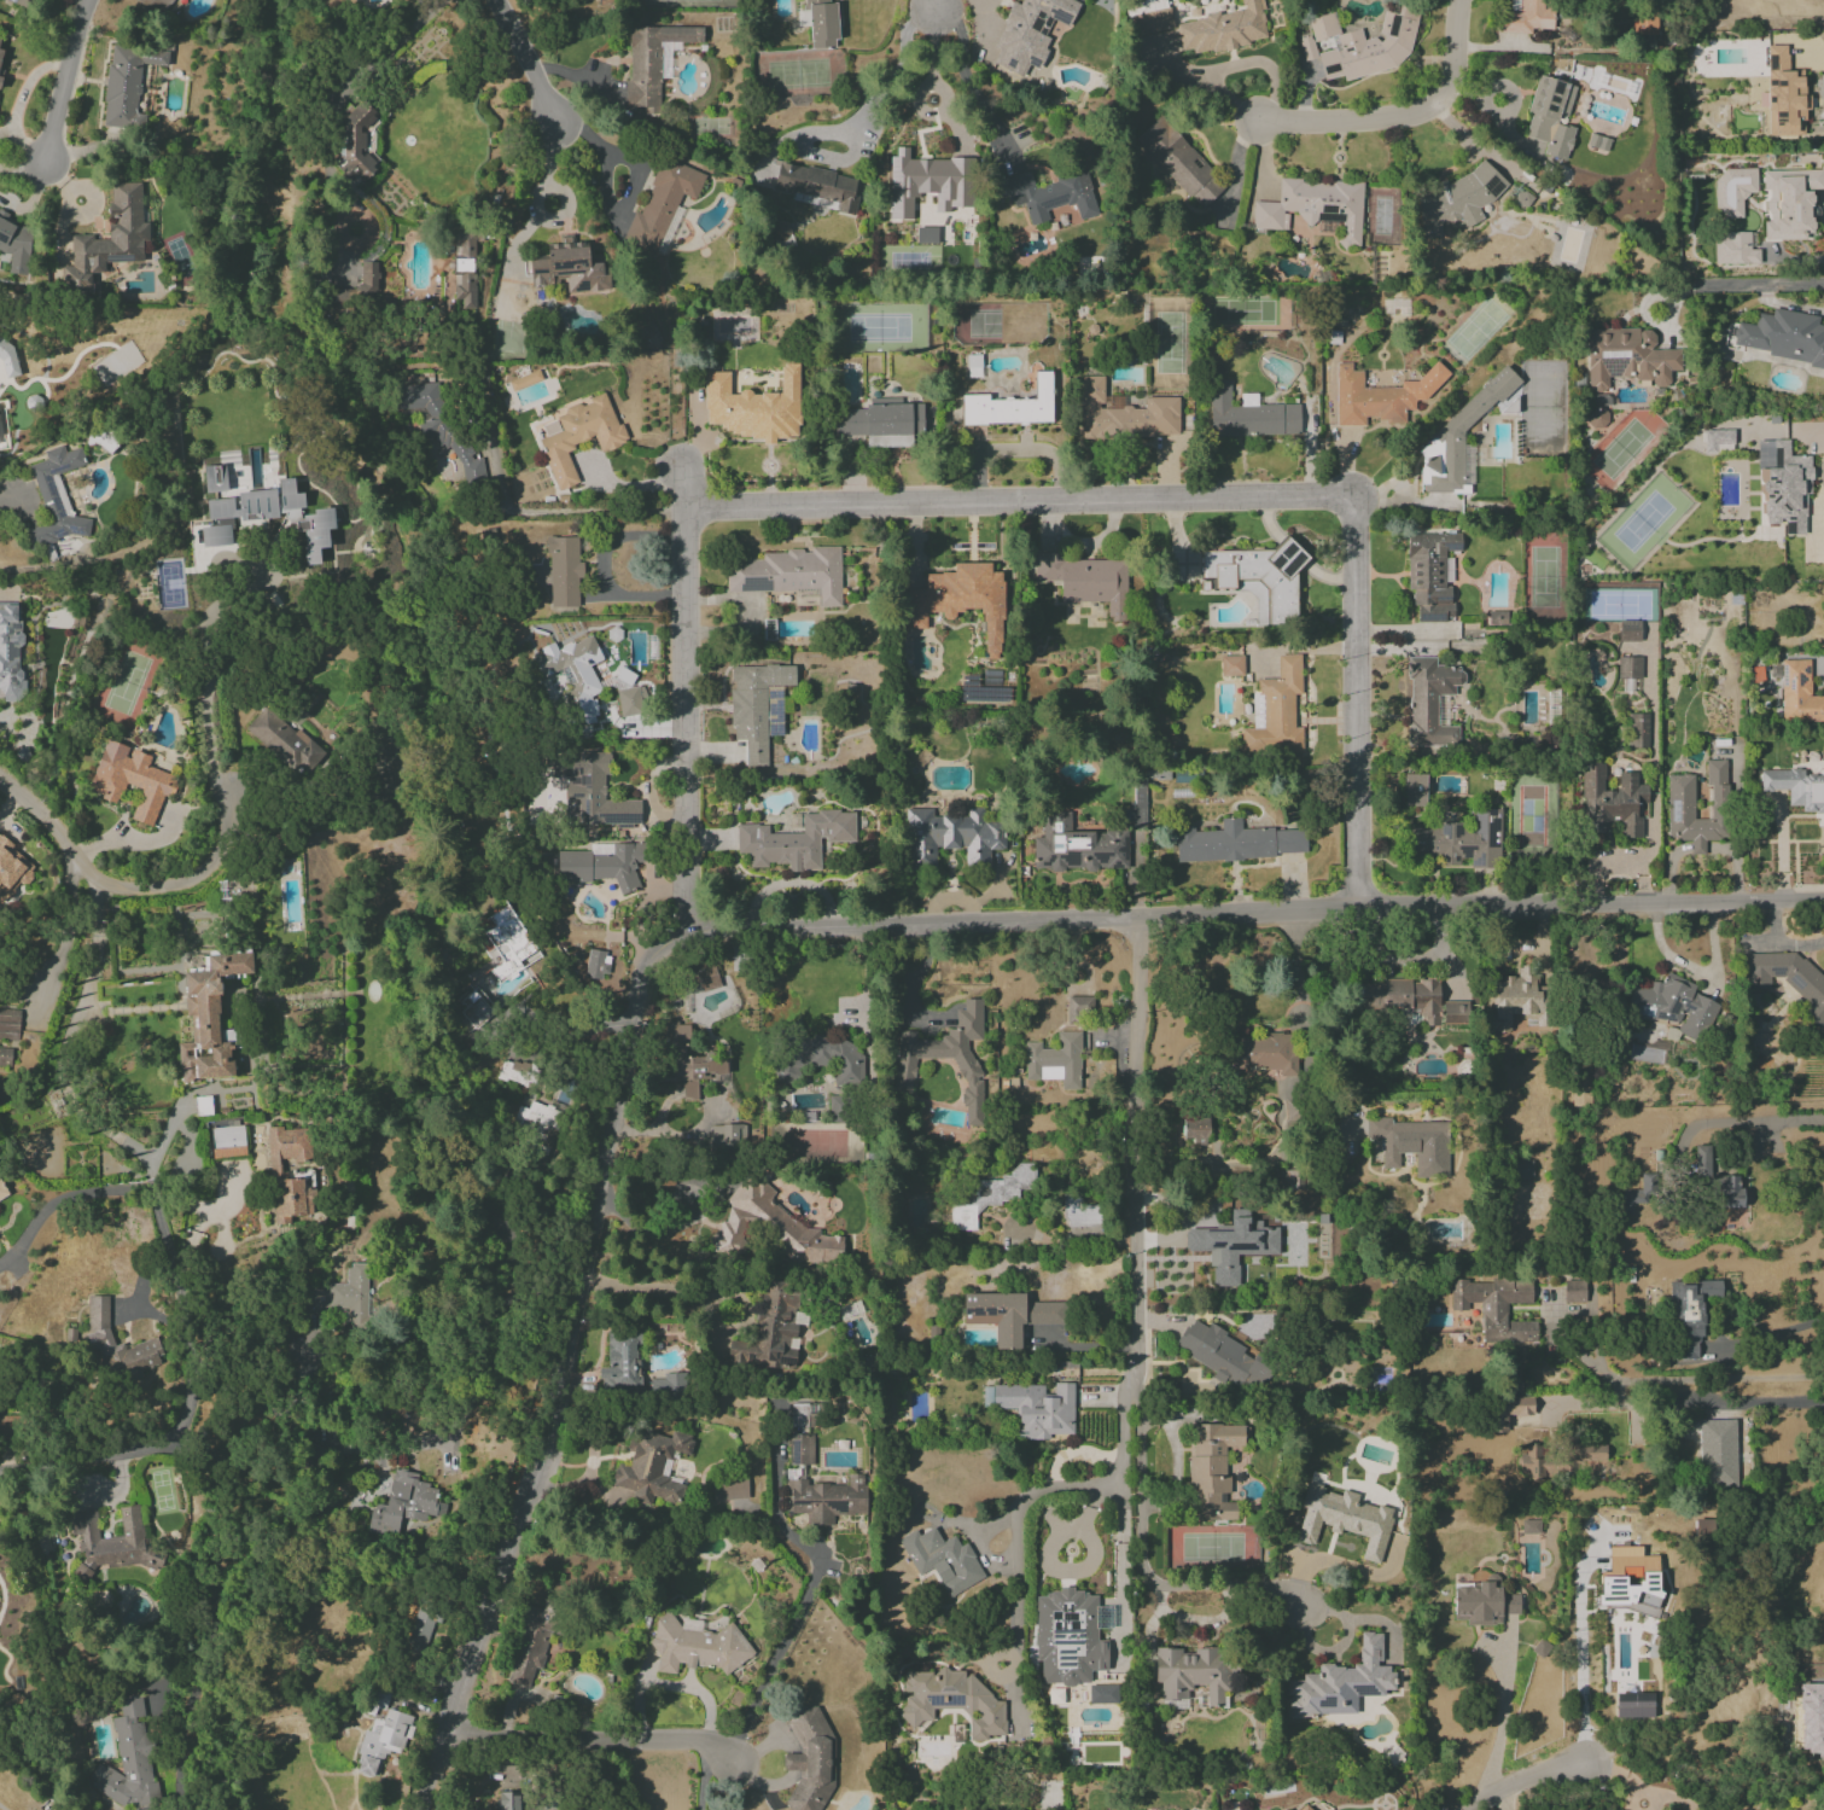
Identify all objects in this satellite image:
building: (28, 4)
building: (156, 5)
building: (1808, 7)
road: (938, 8)
building: (1527, 17)
building: (1153, 21)
building: (820, 23)
building: (1644, 24)
building: (1223, 29)
building: (1030, 33)
building: (0, 39)
building: (1359, 46)
building: (0, 54)
road: (528, 65)
building: (1, 75)
road: (64, 82)
building: (127, 85)
road: (972, 87)
road: (917, 95)
building: (1784, 95)
road: (1403, 117)
building: (1550, 117)
road: (847, 124)
building: (356, 142)
building: (1179, 162)
building: (927, 182)
building: (817, 185)
building: (1732, 192)
building: (1050, 194)
road: (536, 198)
building: (1457, 199)
building: (1521, 199)
building: (1790, 202)
building: (662, 203)
building: (1315, 206)
building: (780, 233)
building: (925, 234)
building: (107, 240)
building: (16, 244)
building: (1733, 249)
building: (567, 267)
building: (464, 268)
building: (369, 275)
road: (1731, 285)
building: (1782, 337)
building: (7, 357)
building: (1627, 357)
building: (973, 366)
building: (524, 380)
building: (1381, 396)
building: (1010, 406)
building: (753, 407)
building: (1248, 414)
building: (1125, 415)
building: (1597, 418)
building: (881, 423)
building: (439, 426)
building: (579, 436)
building: (1459, 440)
building: (1718, 441)
building: (215, 478)
road: (17, 496)
building: (56, 499)
road: (1016, 502)
road: (1820, 508)
road: (565, 511)
building: (314, 526)
building: (215, 536)
building: (564, 572)
building: (789, 574)
building: (1430, 575)
building: (1258, 580)
building: (1085, 581)
building: (963, 601)
building: (768, 629)
building: (1628, 630)
building: (10, 651)
building: (1231, 665)
building: (1628, 667)
building: (573, 675)
building: (625, 676)
road: (209, 682)
building: (1799, 693)
road: (682, 694)
building: (1429, 700)
building: (630, 702)
road: (1358, 704)
building: (757, 706)
building: (1275, 711)
building: (1637, 731)
building: (284, 741)
building: (130, 779)
building: (1796, 787)
building: (1414, 790)
building: (590, 791)
building: (1142, 796)
building: (1679, 797)
building: (1612, 801)
building: (949, 837)
building: (1458, 839)
building: (796, 840)
building: (1239, 842)
building: (1078, 846)
building: (601, 865)
building: (11, 869)
road: (130, 889)
road: (1252, 914)
building: (507, 942)
road: (95, 950)
building: (595, 965)
road: (1294, 968)
road: (1695, 970)
building: (707, 979)
road: (913, 979)
building: (1789, 979)
building: (1401, 996)
building: (1517, 1000)
building: (1673, 1006)
building: (1079, 1008)
building: (1458, 1012)
building: (209, 1018)
building: (8, 1024)
building: (1264, 1053)
building: (5, 1058)
building: (821, 1059)
building: (1055, 1060)
building: (687, 1061)
building: (967, 1072)
road: (81, 1112)
building: (536, 1119)
road: (1739, 1122)
building: (1195, 1130)
building: (727, 1135)
building: (226, 1139)
building: (1410, 1143)
building: (1521, 1169)
building: (276, 1170)
building: (1290, 1180)
building: (1715, 1181)
building: (2, 1192)
building: (989, 1197)
road: (64, 1198)
building: (1631, 1199)
building: (1079, 1212)
building: (770, 1228)
road: (1074, 1240)
building: (1232, 1246)
road: (660, 1291)
building: (1573, 1291)
building: (1497, 1306)
building: (1009, 1315)
building: (1689, 1317)
building: (770, 1329)
road: (1782, 1333)
building: (117, 1345)
road: (1132, 1346)
building: (1222, 1356)
building: (620, 1361)
road: (564, 1367)
road: (1692, 1379)
building: (666, 1385)
road: (268, 1402)
road: (1752, 1402)
road: (182, 1409)
building: (1037, 1409)
building: (1508, 1410)
building: (802, 1415)
building: (2, 1422)
building: (800, 1449)
building: (1717, 1454)
road: (76, 1459)
building: (1557, 1459)
building: (651, 1466)
building: (1212, 1469)
building: (729, 1489)
building: (823, 1497)
building: (403, 1505)
building: (1344, 1519)
building: (1529, 1526)
building: (1703, 1527)
road: (1015, 1556)
building: (942, 1560)
building: (1628, 1581)
building: (1482, 1602)
building: (419, 1634)
building: (1067, 1637)
building: (529, 1646)
building: (697, 1646)
building: (1540, 1648)
road: (1579, 1655)
road: (769, 1666)
building: (1194, 1674)
building: (1341, 1683)
building: (1101, 1694)
building: (951, 1701)
building: (1633, 1705)
road: (1503, 1707)
building: (1810, 1718)
road: (589, 1738)
building: (381, 1741)
building: (128, 1759)
building: (809, 1759)
road: (1616, 1781)
road: (1520, 1782)
building: (508, 1800)
road: (4, 1806)
building: (1305, 1808)
building: (1284, 1809)

